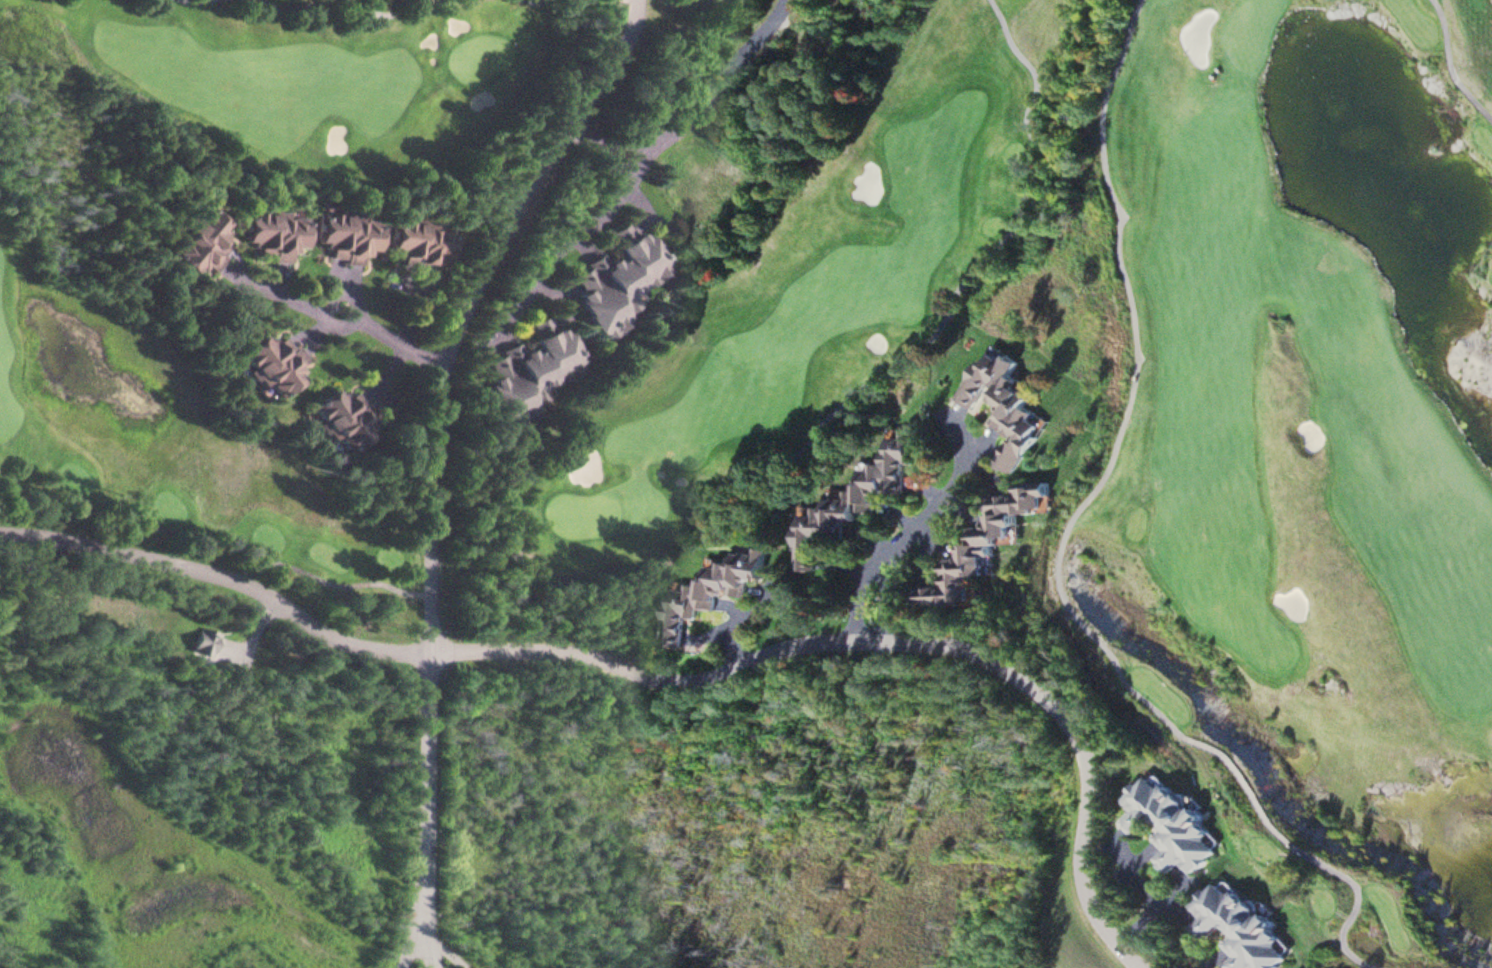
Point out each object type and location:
park: (1246, 31)
road: (1451, 64)
road: (689, 118)
building: (276, 233)
building: (348, 236)
building: (201, 241)
building: (420, 244)
road: (556, 249)
building: (619, 279)
road: (391, 340)
park: (820, 347)
building: (275, 364)
building: (532, 371)
building: (1007, 406)
road: (433, 417)
building: (345, 419)
building: (589, 465)
road: (949, 494)
building: (854, 500)
building: (983, 547)
road: (1058, 550)
road: (882, 558)
building: (713, 590)
road: (738, 622)
building: (205, 641)
road: (435, 653)
road: (1085, 746)
building: (1175, 825)
road: (428, 927)
road: (414, 928)
building: (1239, 928)

